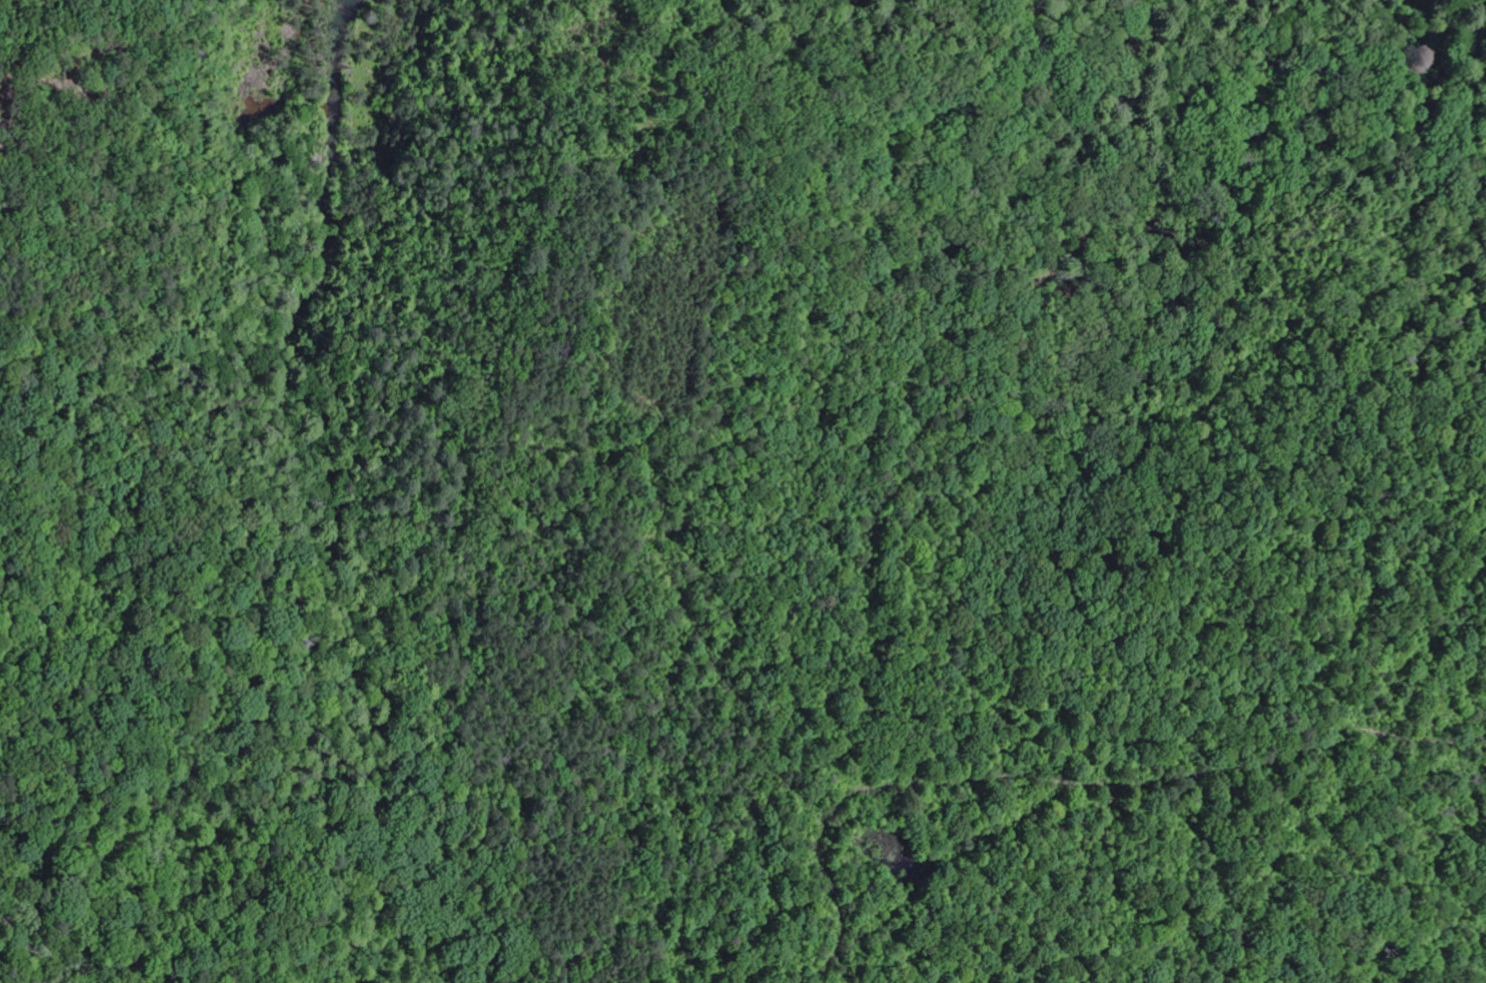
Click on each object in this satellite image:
road: (378, 213)
road: (1069, 779)
road: (26, 944)

